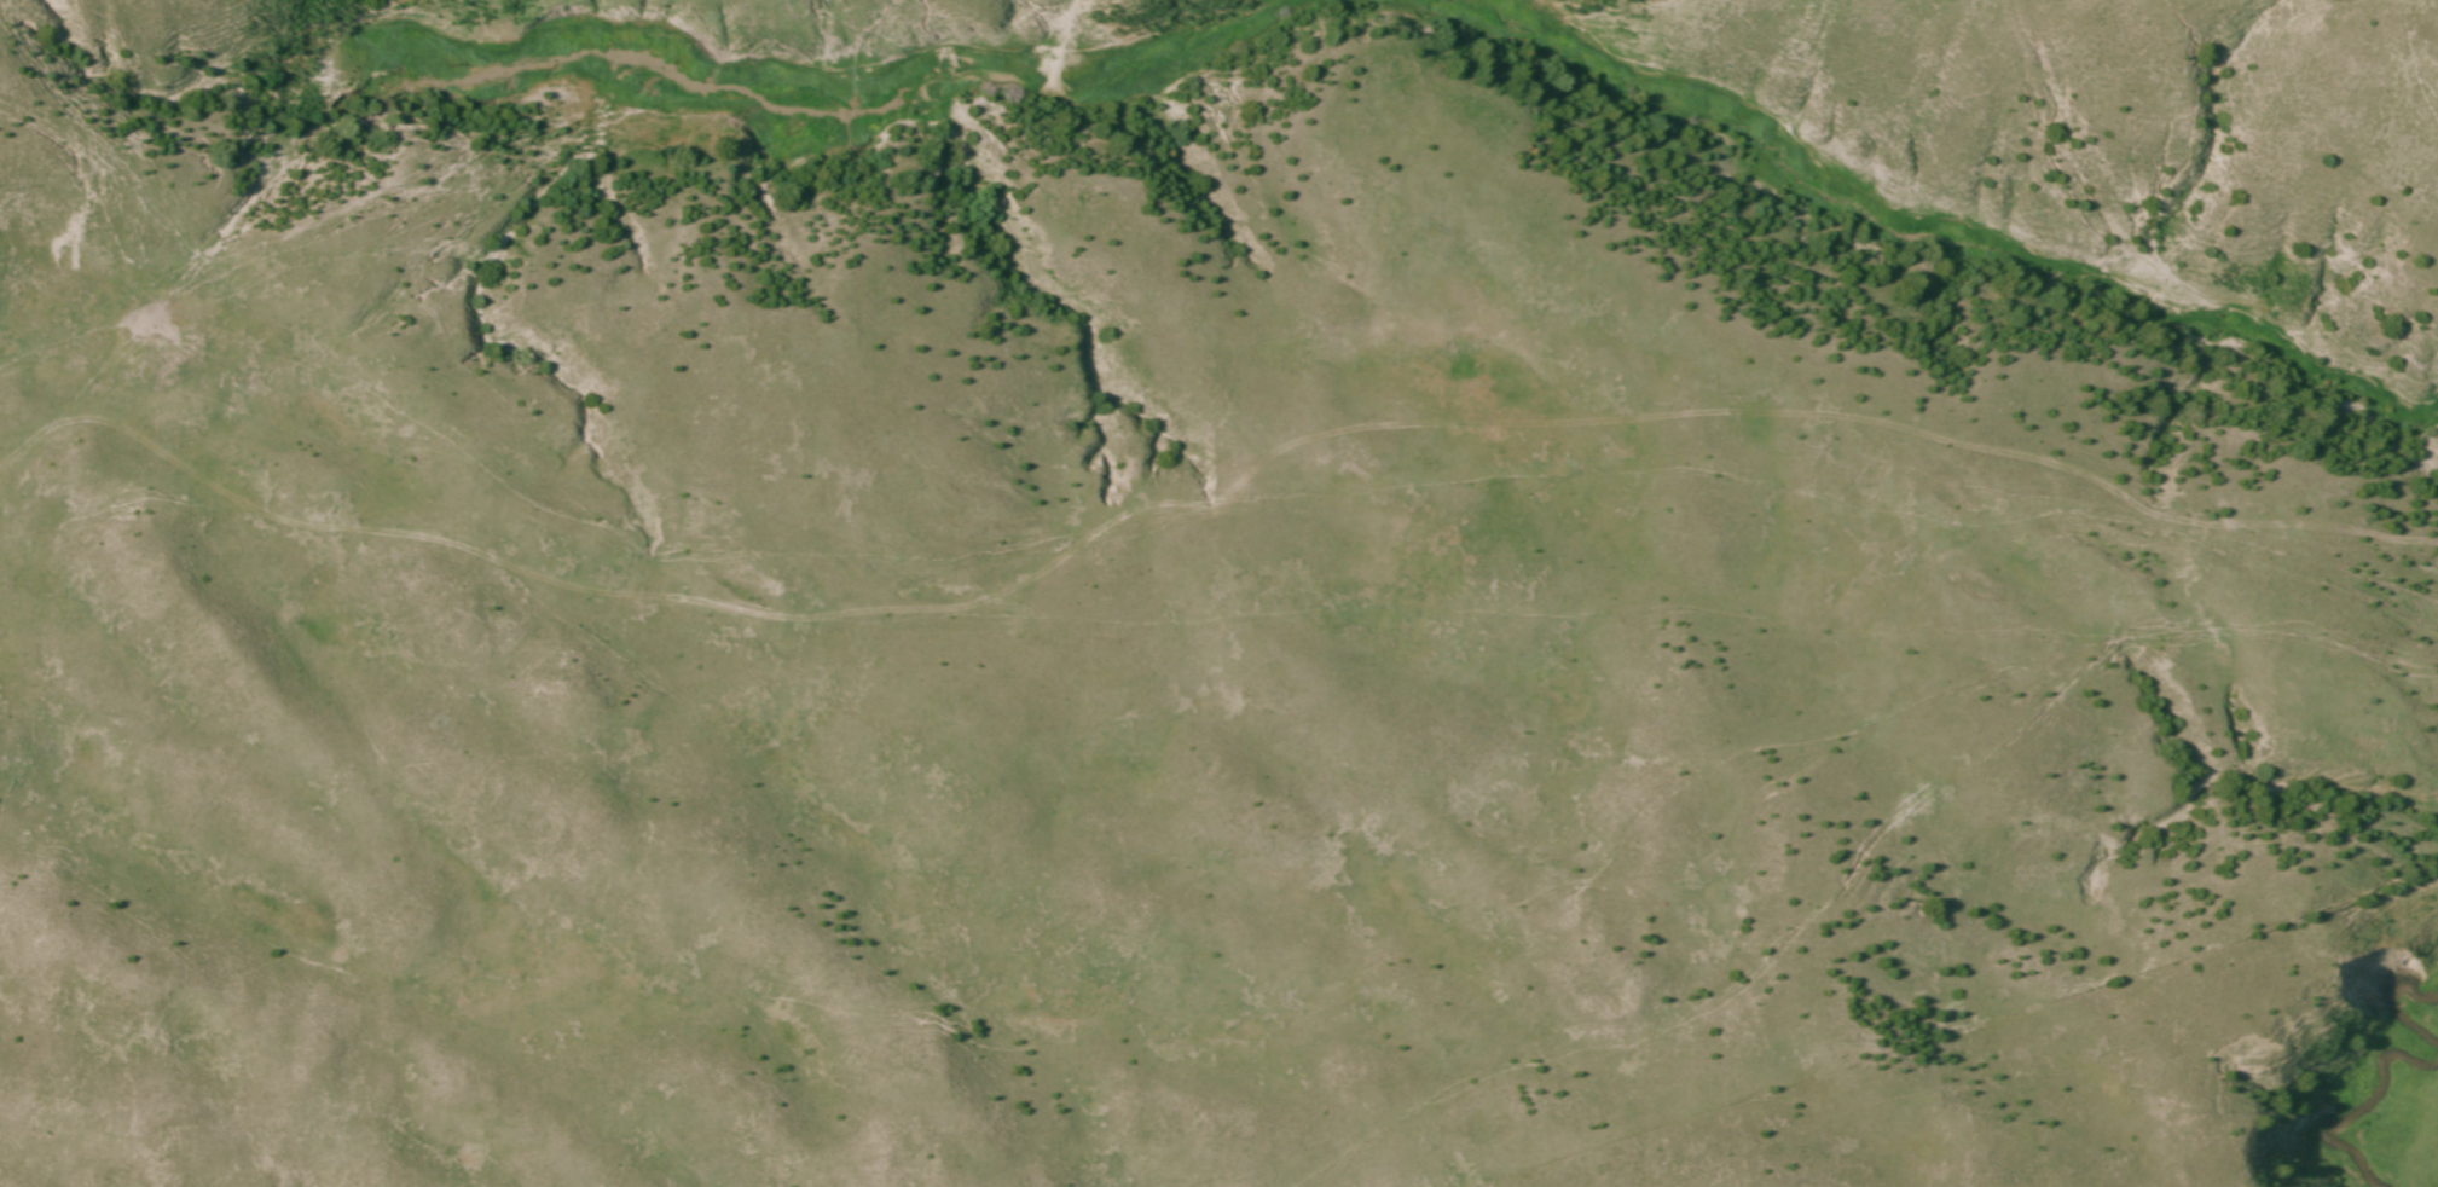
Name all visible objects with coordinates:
river: (2369, 1073)

